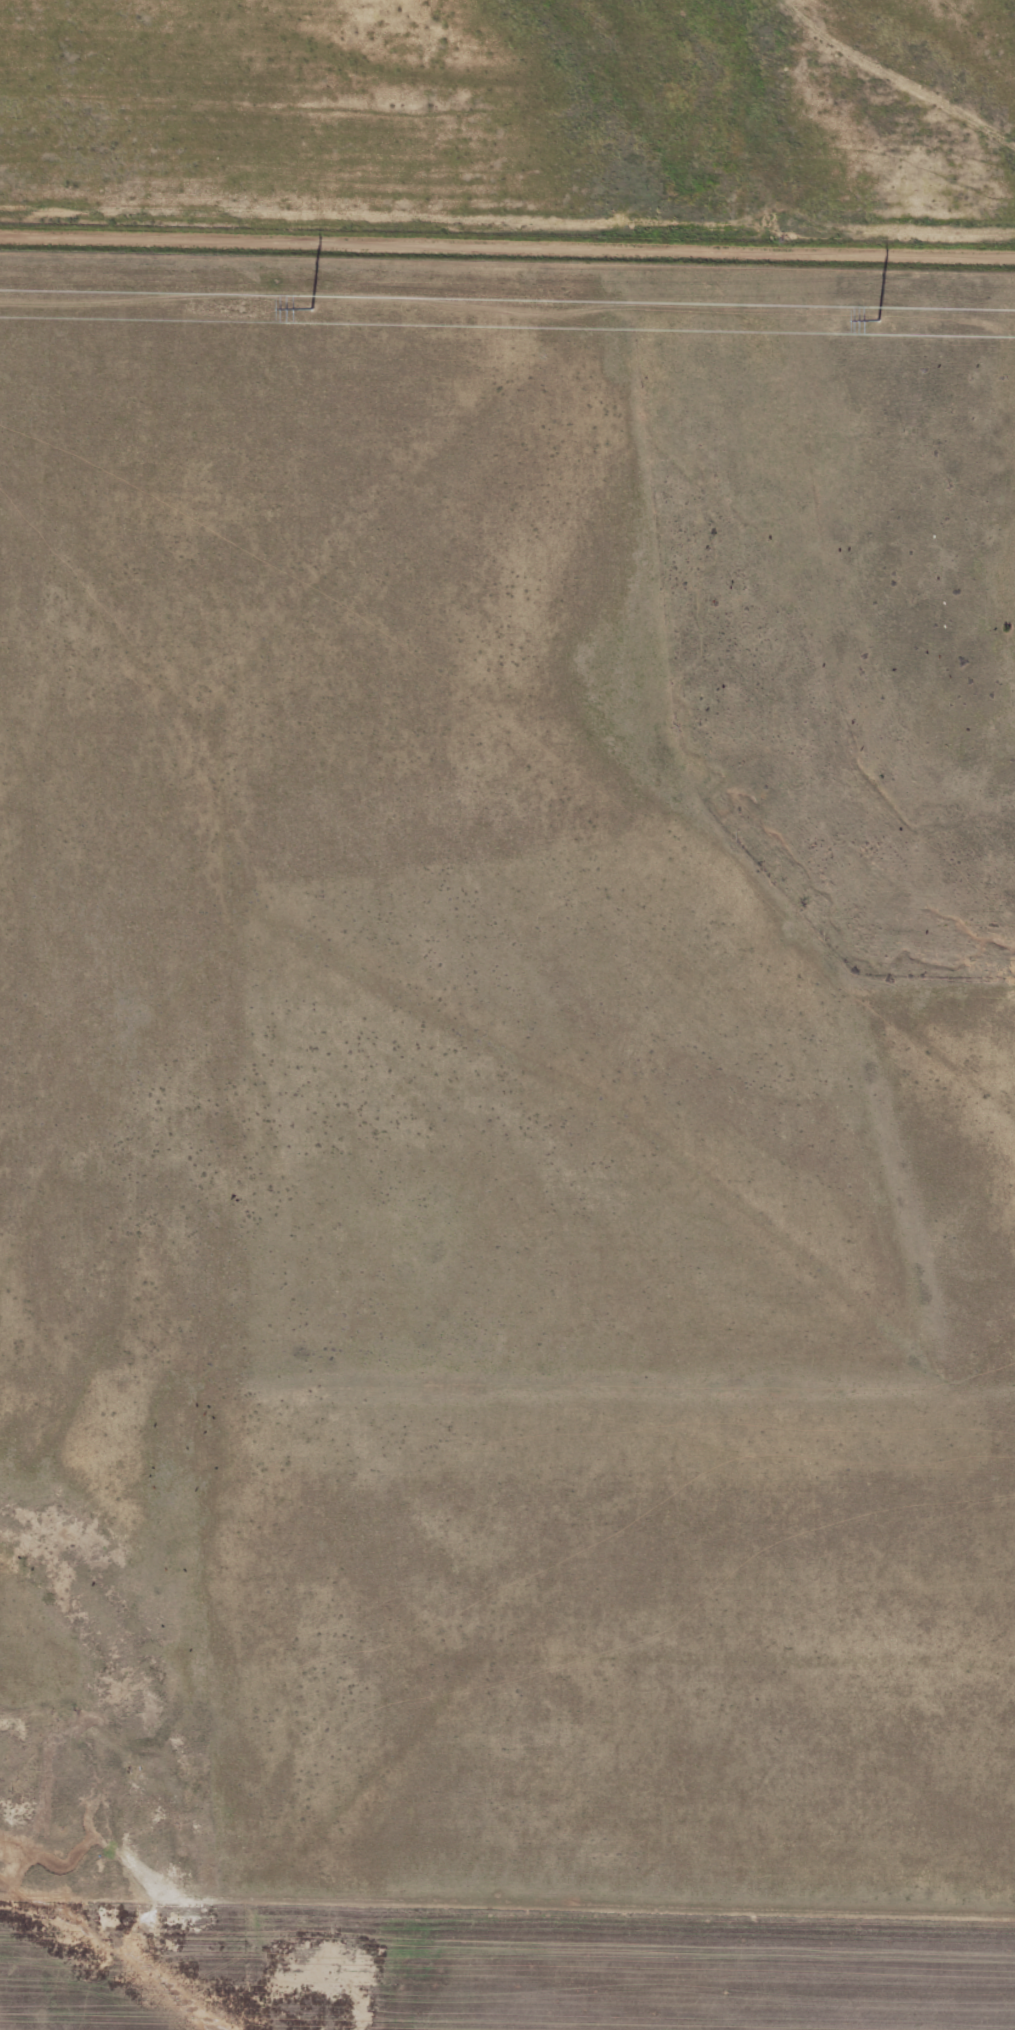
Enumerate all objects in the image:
road: (507, 243)
power tower: (312, 307)
power tower: (878, 319)

